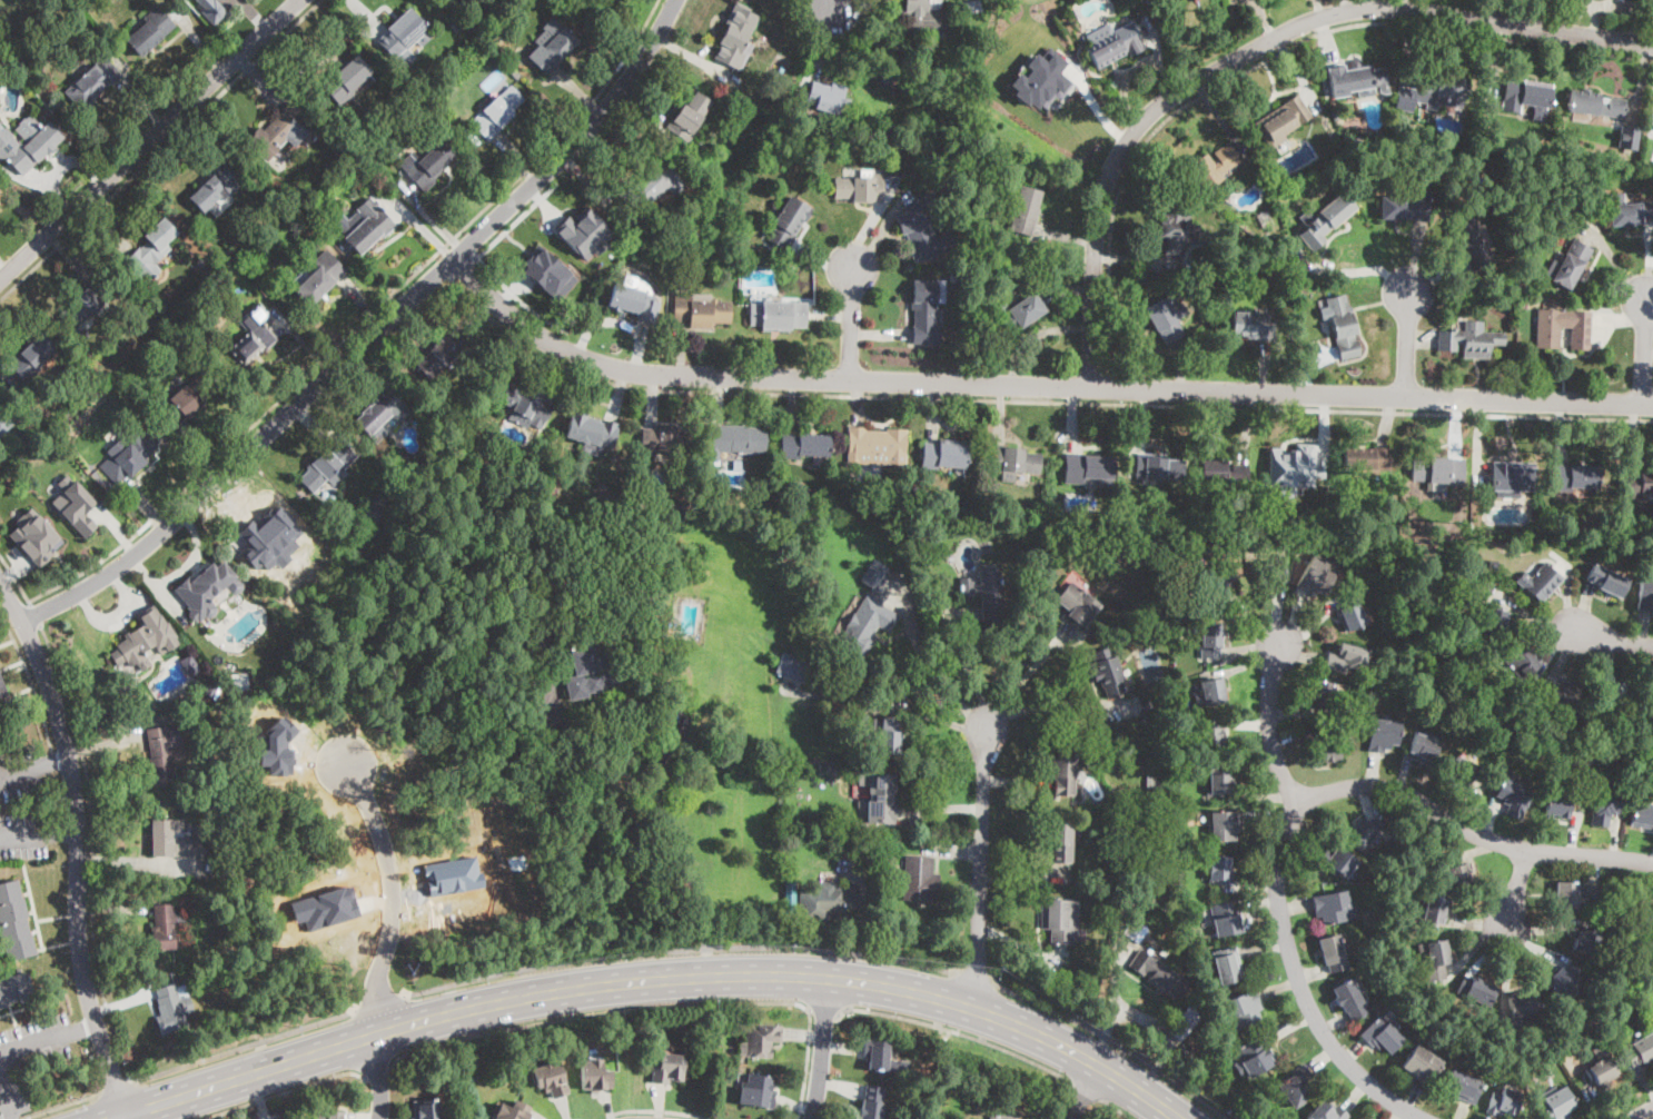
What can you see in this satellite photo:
building: (595, 1)
road: (829, 2)
building: (215, 10)
building: (920, 13)
park: (24, 22)
building: (455, 23)
building: (476, 24)
building: (150, 31)
building: (404, 34)
building: (736, 36)
building: (1112, 43)
building: (552, 46)
road: (1254, 48)
road: (1270, 56)
building: (1040, 79)
building: (347, 80)
building: (1356, 80)
building: (966, 82)
building: (93, 83)
building: (770, 86)
building: (1433, 92)
building: (1525, 95)
building: (826, 96)
building: (1595, 106)
building: (432, 111)
building: (499, 112)
building: (689, 116)
building: (927, 117)
building: (1283, 120)
building: (283, 131)
building: (1629, 137)
road: (149, 139)
road: (576, 139)
building: (27, 143)
road: (157, 148)
building: (358, 158)
building: (427, 164)
building: (1214, 166)
building: (991, 167)
building: (216, 186)
building: (860, 188)
building: (647, 190)
building: (1404, 207)
building: (1025, 210)
building: (1267, 212)
building: (1631, 214)
road: (516, 220)
building: (1324, 220)
building: (789, 222)
building: (919, 227)
building: (1178, 227)
building: (369, 229)
building: (583, 231)
building: (1472, 245)
road: (467, 247)
building: (152, 249)
building: (200, 263)
building: (1572, 265)
road: (461, 266)
road: (438, 268)
road: (1363, 270)
building: (547, 274)
building: (320, 278)
road: (518, 297)
building: (634, 300)
building: (1502, 300)
building: (1521, 303)
building: (87, 304)
building: (701, 309)
building: (927, 310)
building: (974, 310)
building: (1020, 313)
building: (779, 315)
building: (1166, 318)
road: (364, 321)
road: (851, 324)
building: (1256, 324)
building: (1558, 325)
building: (1343, 326)
building: (83, 335)
building: (1471, 340)
building: (254, 343)
road: (1406, 344)
building: (445, 351)
road: (1643, 351)
building: (32, 358)
road: (1035, 385)
road: (1032, 398)
building: (186, 400)
building: (526, 402)
building: (378, 410)
building: (4, 423)
building: (592, 430)
building: (735, 439)
building: (669, 442)
building: (805, 445)
building: (877, 445)
road: (247, 450)
building: (946, 455)
building: (128, 456)
building: (1367, 461)
building: (1014, 462)
building: (1294, 463)
building: (736, 464)
building: (328, 465)
building: (1158, 467)
building: (1088, 468)
building: (634, 471)
building: (1439, 471)
building: (1223, 472)
building: (1578, 476)
building: (1514, 478)
building: (1640, 485)
building: (639, 498)
building: (386, 502)
building: (73, 505)
building: (691, 505)
building: (1043, 517)
building: (34, 536)
building: (1050, 539)
building: (259, 542)
building: (1493, 563)
building: (1270, 573)
building: (875, 575)
road: (16, 576)
building: (1317, 576)
building: (1218, 580)
building: (1606, 580)
building: (1541, 582)
building: (926, 584)
building: (1484, 587)
building: (210, 590)
building: (984, 591)
building: (1645, 593)
road: (11, 602)
building: (660, 603)
building: (1078, 603)
road: (36, 612)
building: (1352, 615)
building: (637, 621)
building: (1496, 622)
building: (867, 625)
road: (1613, 637)
building: (541, 638)
building: (1211, 640)
building: (141, 642)
building: (1346, 658)
building: (1524, 661)
building: (793, 667)
building: (593, 669)
road: (969, 670)
building: (1108, 672)
road: (31, 676)
road: (1022, 677)
road: (943, 681)
building: (210, 687)
building: (1212, 691)
building: (1497, 692)
building: (1561, 693)
building: (2, 694)
building: (1322, 694)
building: (1613, 694)
building: (1647, 696)
building: (132, 699)
road: (1052, 705)
building: (1150, 705)
building: (1178, 710)
building: (862, 722)
road: (1269, 726)
building: (1212, 732)
building: (888, 734)
building: (1384, 734)
building: (1323, 745)
building: (1423, 749)
building: (162, 752)
road: (52, 762)
building: (1465, 769)
road: (18, 771)
building: (1065, 773)
building: (1220, 780)
building: (1154, 781)
building: (1154, 795)
building: (881, 796)
building: (1513, 798)
building: (1118, 799)
road: (1300, 804)
building: (1557, 805)
building: (1603, 808)
building: (1642, 815)
building: (1226, 824)
building: (804, 828)
building: (1365, 831)
building: (202, 832)
road: (62, 834)
road: (23, 836)
road: (674, 839)
building: (174, 840)
building: (1061, 843)
building: (848, 848)
road: (95, 852)
building: (1452, 859)
building: (1336, 862)
road: (981, 865)
road: (78, 867)
building: (219, 868)
building: (1219, 869)
building: (1458, 877)
building: (920, 880)
road: (1517, 887)
building: (852, 889)
building: (1576, 894)
road: (394, 897)
building: (825, 902)
building: (1332, 907)
building: (1434, 911)
building: (1646, 917)
building: (1223, 919)
building: (16, 922)
building: (1060, 922)
building: (166, 925)
building: (1132, 930)
building: (1585, 942)
road: (680, 948)
building: (1335, 953)
building: (1437, 953)
building: (1228, 964)
building: (1160, 974)
road: (974, 976)
road: (659, 977)
building: (1564, 979)
building: (14, 990)
building: (1477, 990)
building: (1352, 1000)
road: (380, 1001)
building: (1524, 1003)
road: (825, 1007)
building: (172, 1009)
building: (1243, 1009)
road: (588, 1013)
building: (1185, 1021)
road: (1148, 1023)
road: (81, 1027)
building: (205, 1030)
road: (953, 1030)
building: (1382, 1036)
road: (1109, 1038)
building: (762, 1039)
road: (33, 1040)
road: (245, 1044)
road: (822, 1048)
building: (1639, 1050)
building: (1255, 1056)
building: (881, 1057)
road: (805, 1061)
building: (1422, 1064)
road: (372, 1067)
building: (667, 1068)
building: (1601, 1072)
road: (378, 1076)
building: (594, 1076)
building: (550, 1079)
building: (1296, 1086)
road: (115, 1087)
building: (1464, 1087)
road: (1086, 1088)
building: (756, 1091)
road: (1087, 1091)
road: (276, 1092)
road: (6, 1099)
building: (1504, 1102)
building: (872, 1103)
building: (1557, 1103)
road: (58, 1106)
road: (1117, 1108)
building: (426, 1109)
road: (661, 1109)
building: (511, 1111)
building: (1327, 1112)
building: (328, 1115)
road: (116, 1116)
road: (125, 1116)
building: (1001, 1117)
road: (1649, 1117)

